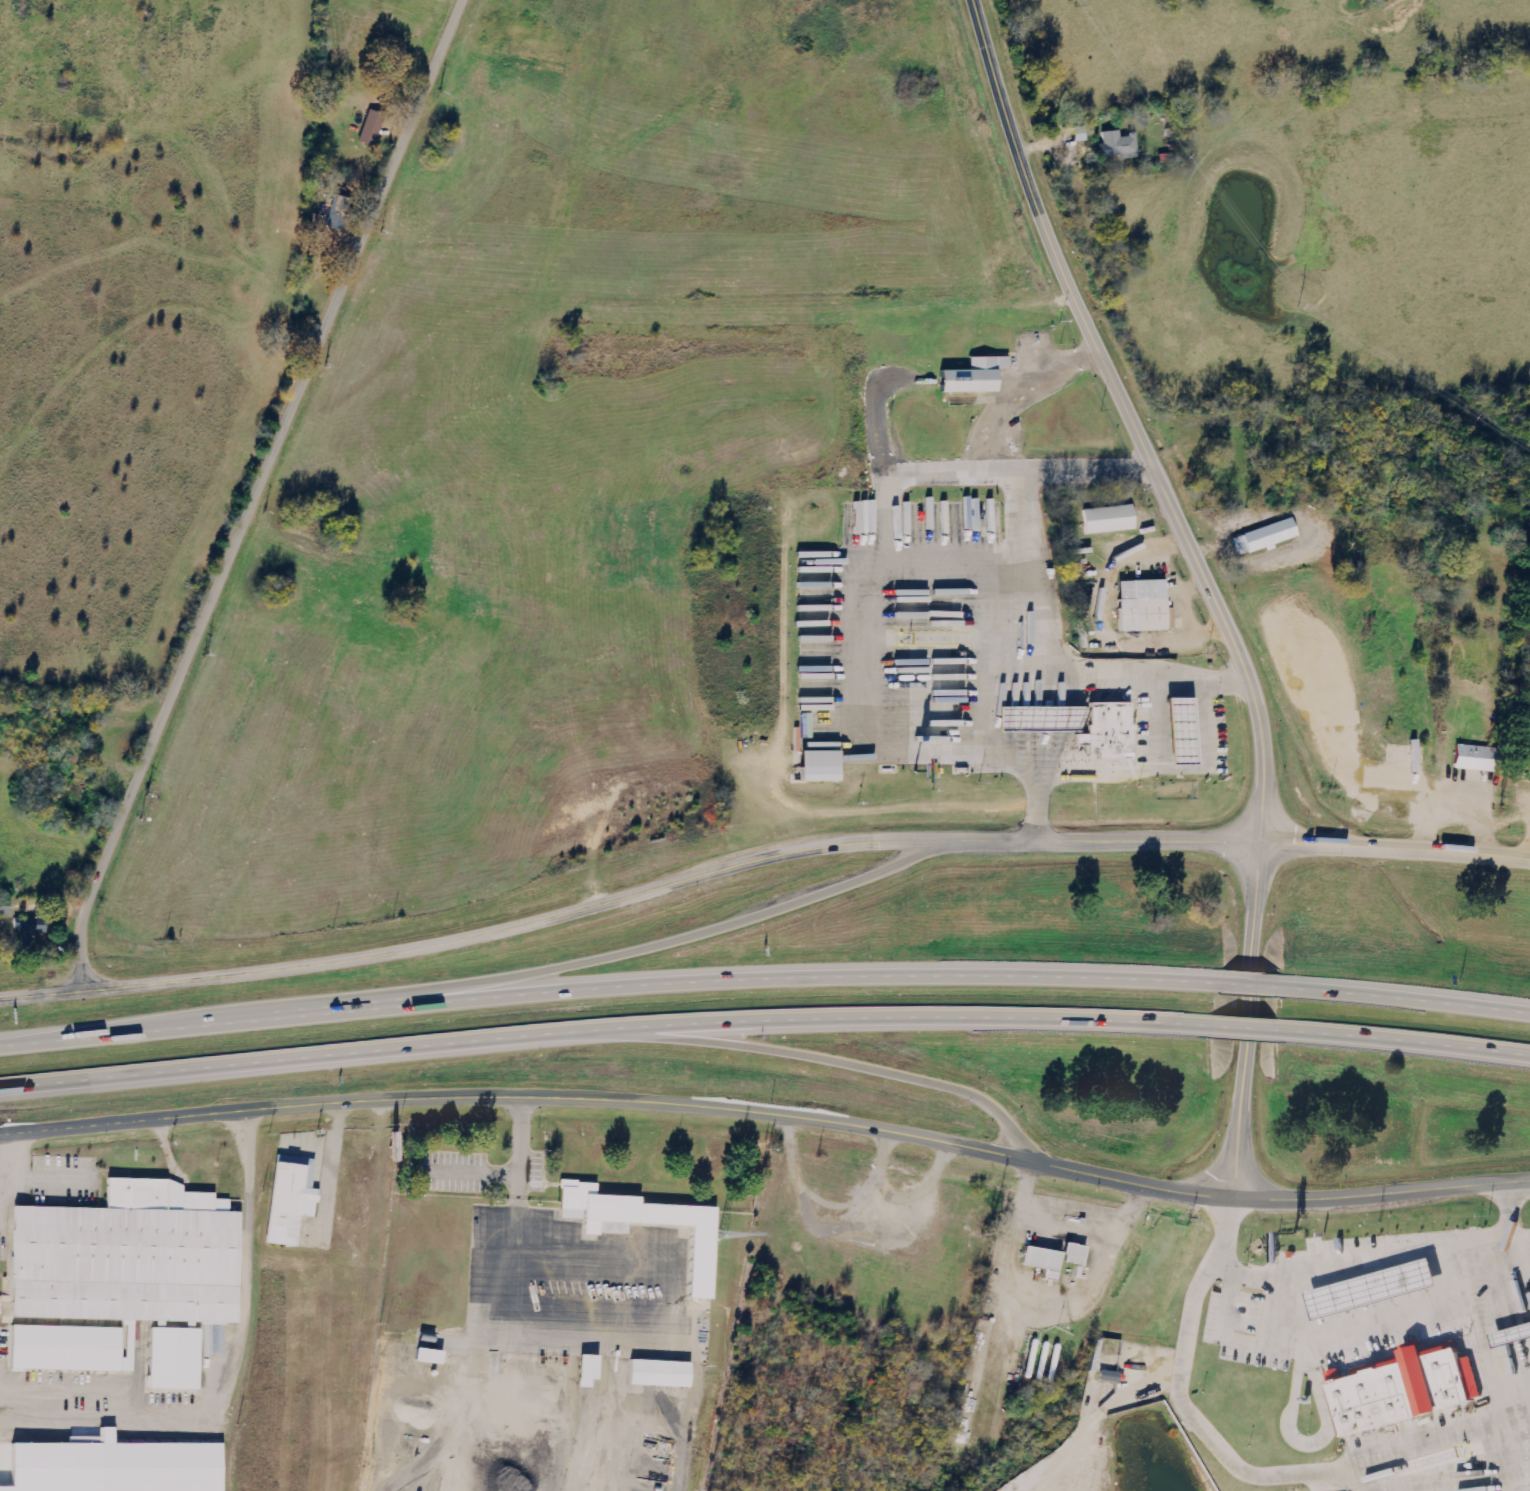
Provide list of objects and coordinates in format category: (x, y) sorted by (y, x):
building: (367, 127)
building: (1114, 144)
building: (334, 211)
building: (971, 376)
road: (257, 494)
building: (985, 515)
building: (1107, 519)
building: (1264, 536)
road: (1203, 579)
building: (1137, 603)
road: (1175, 678)
building: (1034, 720)
gas station: (1034, 720)
road: (1155, 720)
road: (1205, 720)
building: (1106, 730)
building: (1179, 734)
gas station: (1179, 734)
building: (1468, 758)
building: (817, 767)
road: (799, 847)
building: (38, 927)
building: (26, 931)
road: (624, 953)
road: (1248, 985)
road: (605, 987)
road: (41, 996)
road: (1407, 996)
road: (1248, 1027)
road: (607, 1029)
road: (1404, 1043)
road: (816, 1057)
road: (624, 1099)
road: (163, 1142)
road: (7, 1153)
road: (40, 1175)
road: (1386, 1193)
building: (285, 1202)
road: (1511, 1211)
road: (1228, 1224)
building: (1073, 1253)
building: (136, 1258)
building: (1041, 1260)
road: (1372, 1262)
building: (698, 1265)
building: (1372, 1288)
gas station: (1372, 1288)
building: (1510, 1337)
gas station: (1510, 1337)
building: (70, 1349)
road: (1243, 1351)
building: (183, 1359)
road: (227, 1365)
building: (584, 1370)
building: (656, 1373)
building: (1401, 1391)
building: (157, 1467)
road: (1264, 1477)

